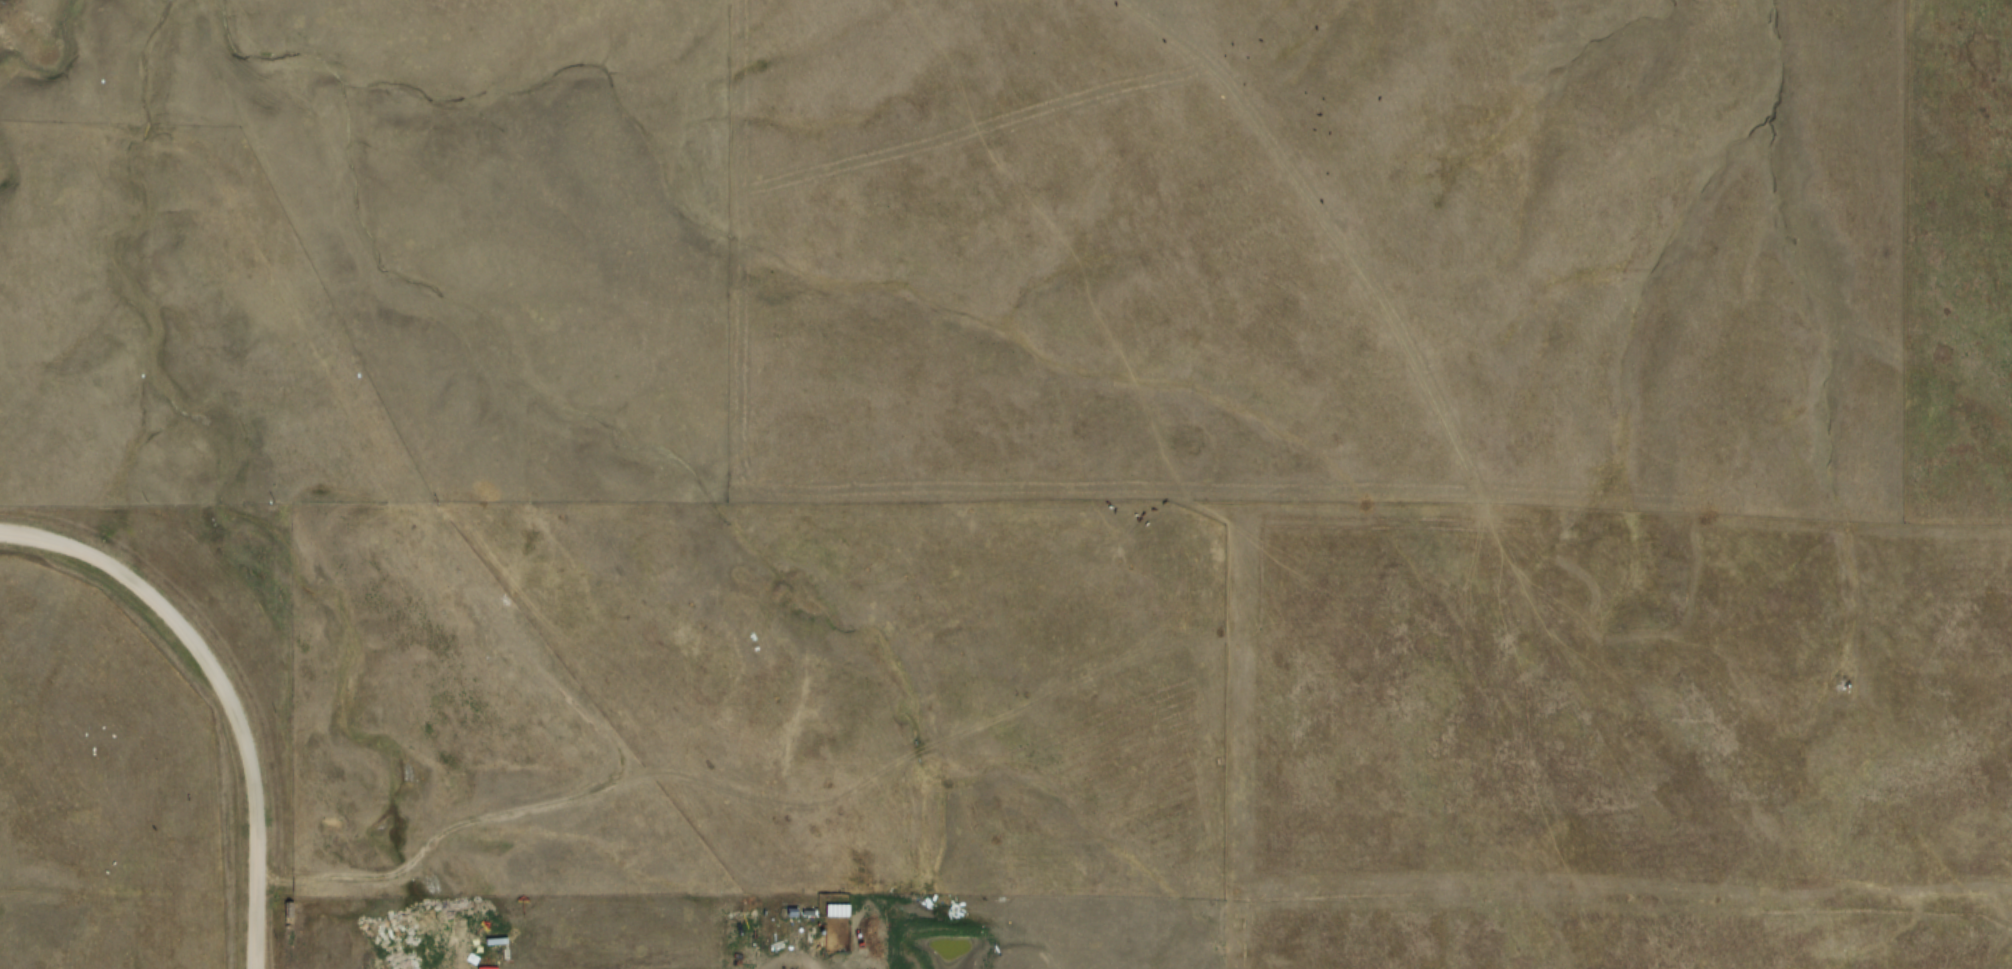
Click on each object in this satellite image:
building: (459, 613)
road: (227, 689)

